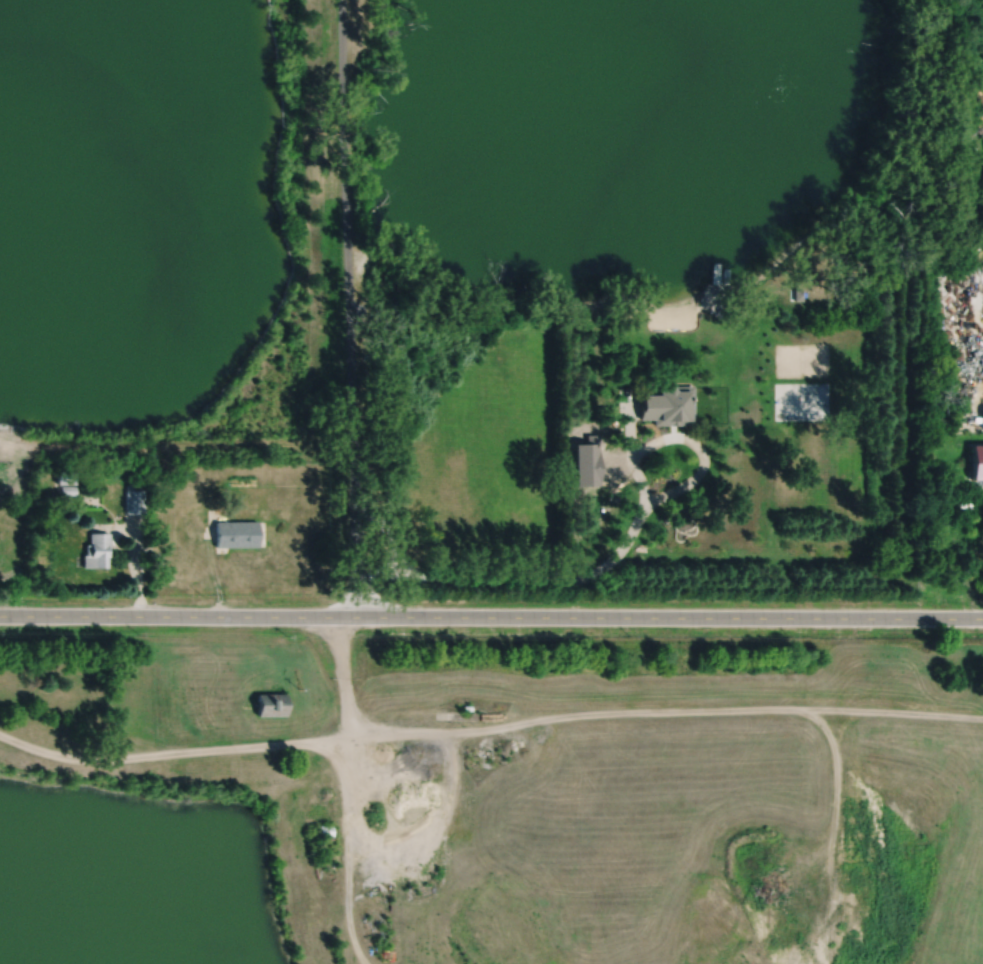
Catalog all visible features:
road: (346, 257)
building: (795, 293)
building: (848, 310)
park: (802, 359)
park: (801, 401)
road: (975, 402)
building: (668, 406)
road: (703, 454)
building: (976, 462)
building: (63, 478)
building: (129, 487)
building: (66, 490)
building: (133, 501)
building: (235, 534)
building: (95, 550)
road: (138, 568)
road: (507, 583)
road: (491, 616)
building: (270, 702)
road: (630, 711)
road: (893, 711)
road: (171, 751)
building: (325, 830)
road: (347, 853)

